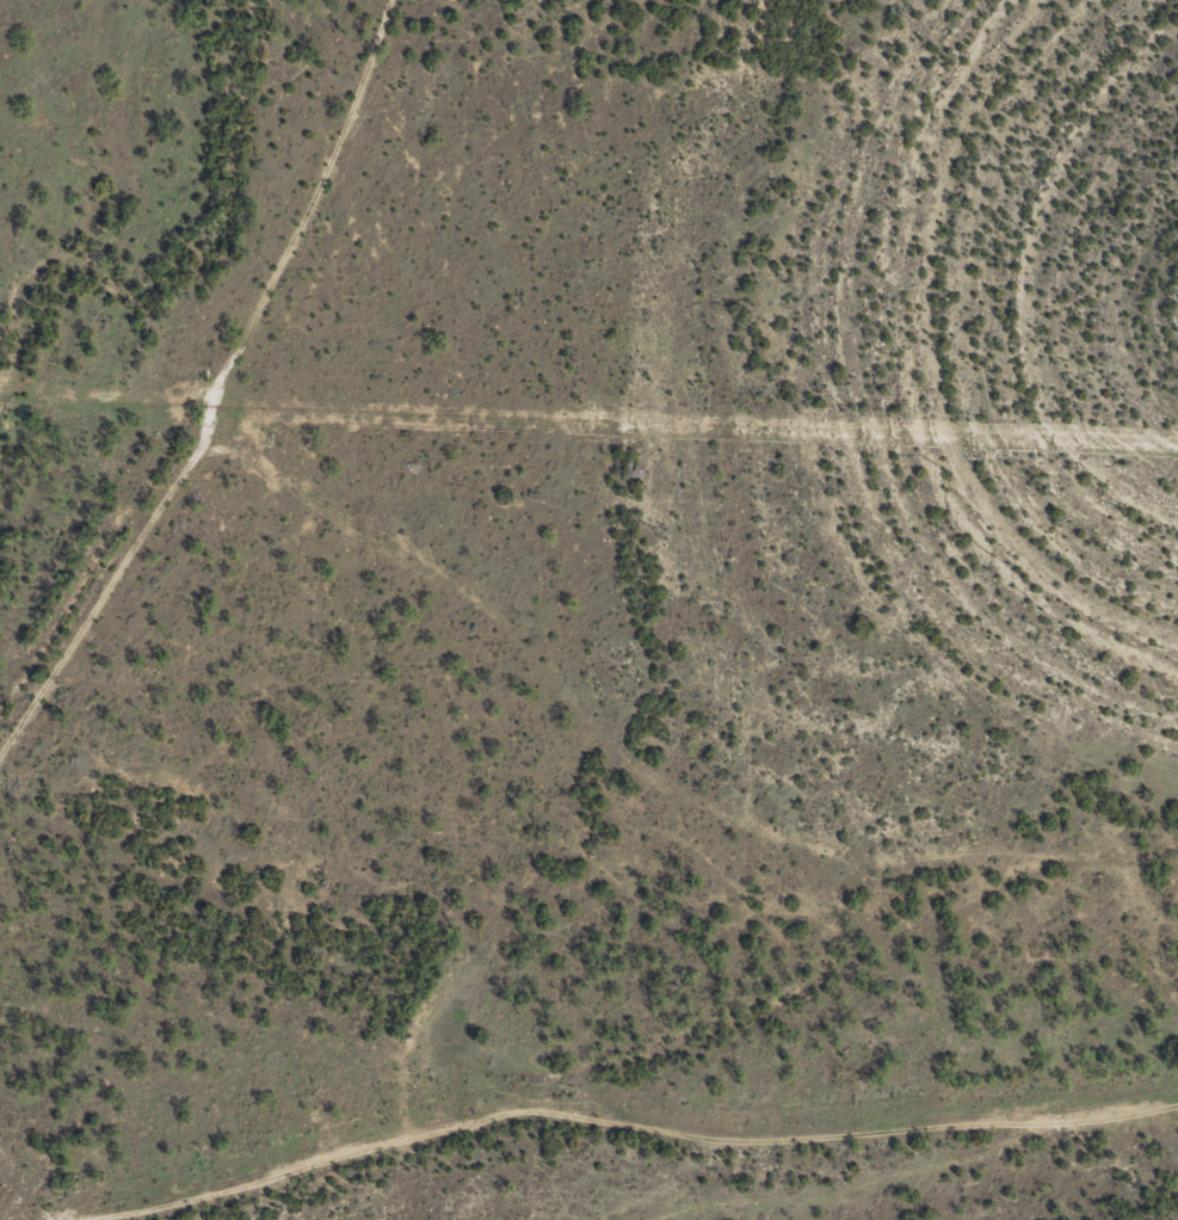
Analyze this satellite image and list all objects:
road: (224, 395)
road: (623, 1136)

